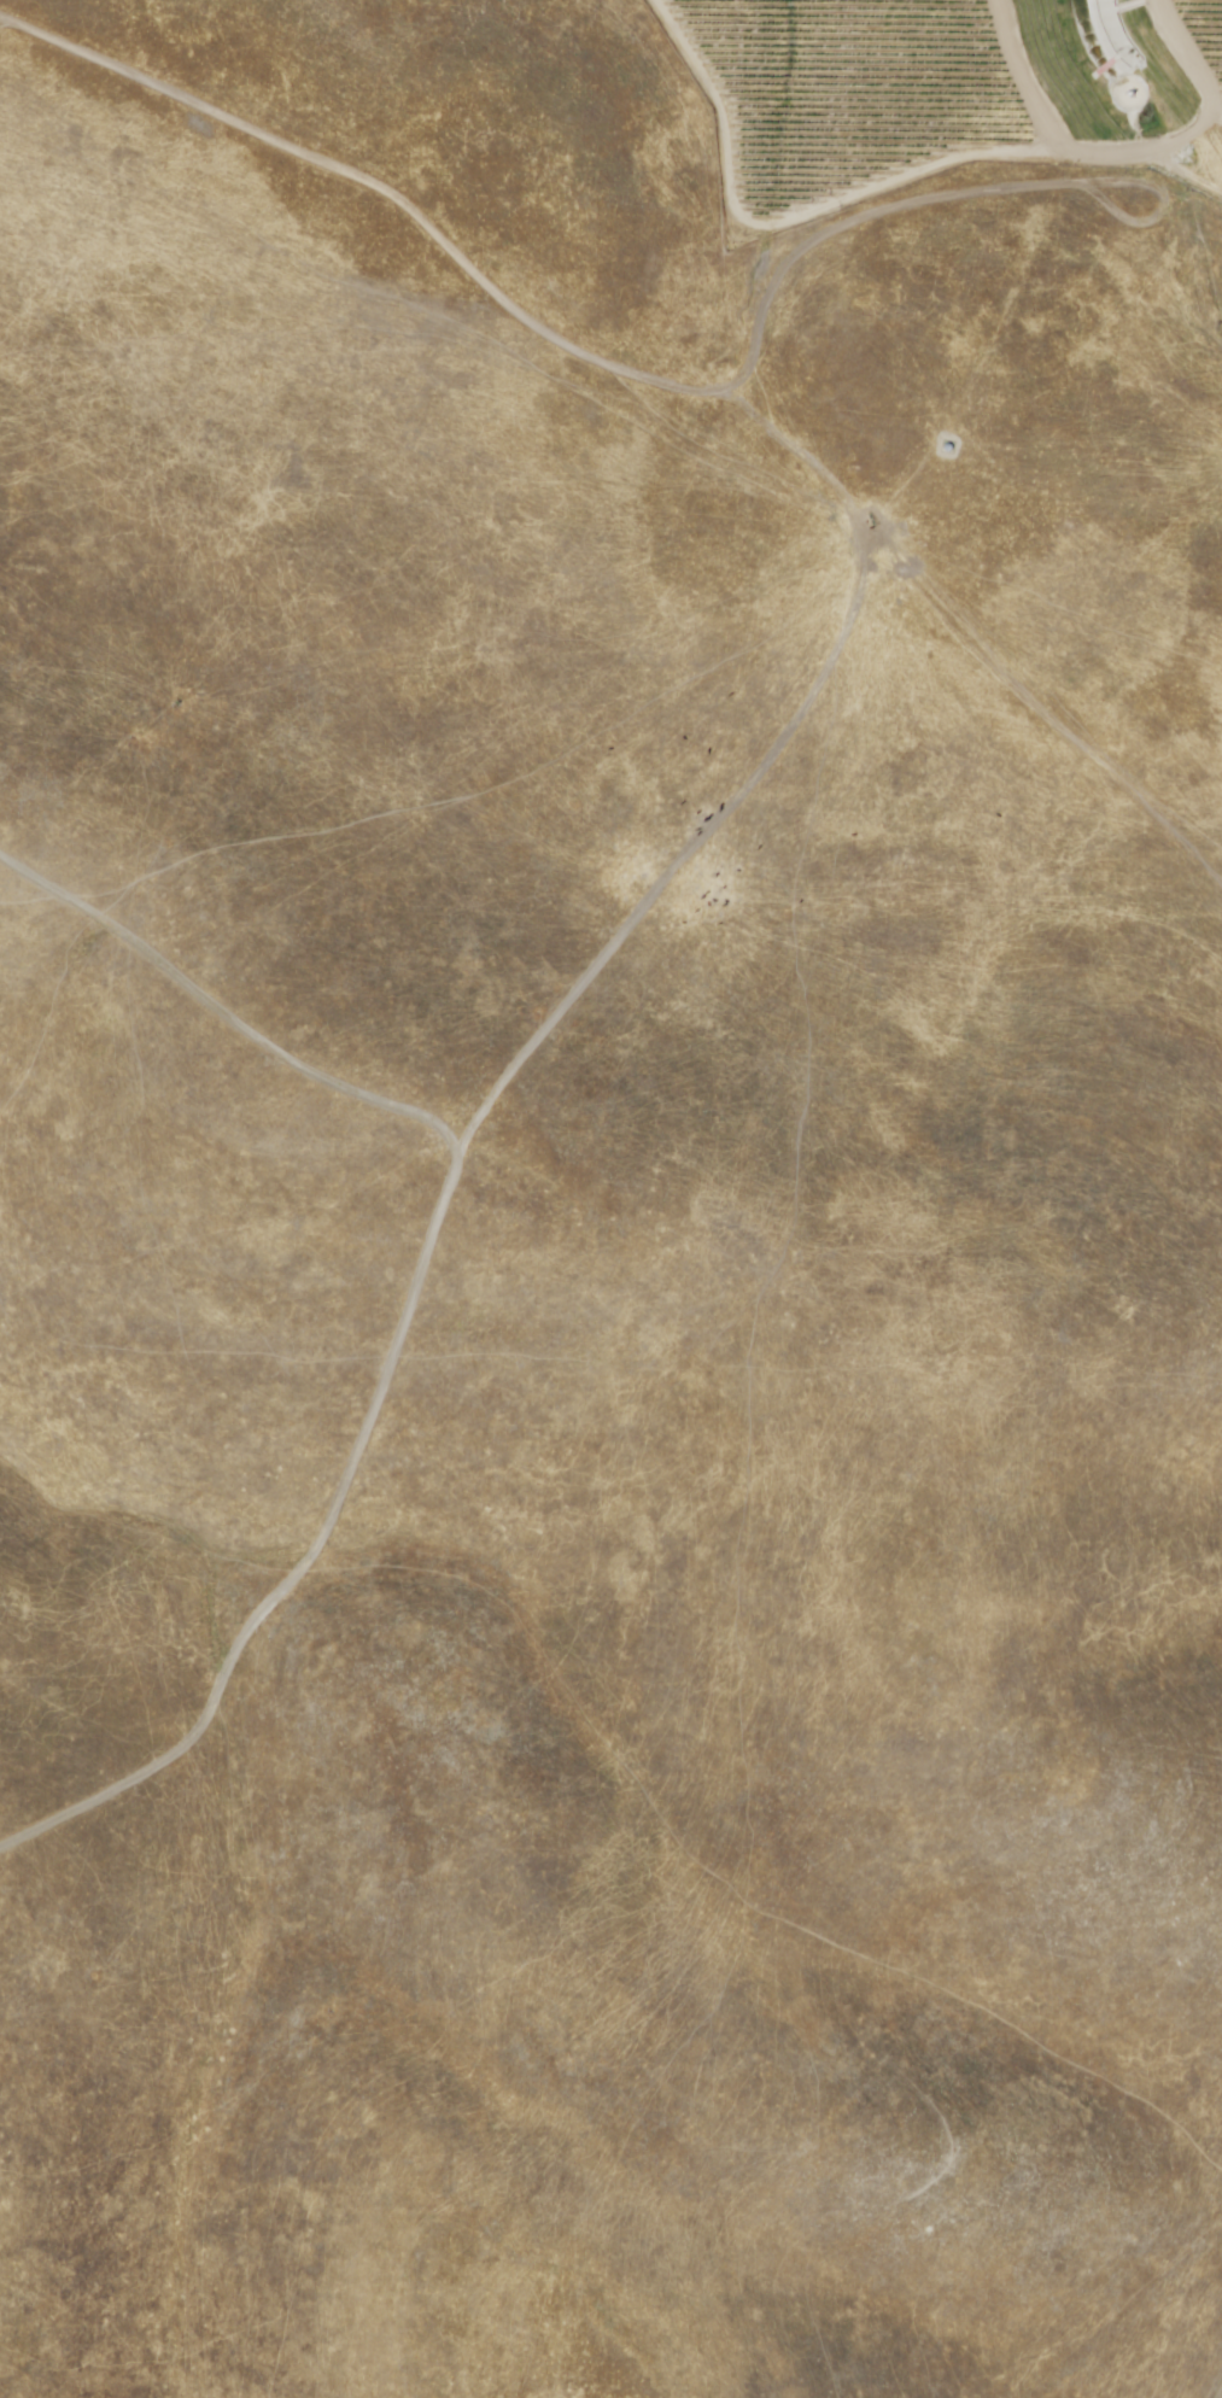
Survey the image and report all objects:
road: (1188, 57)
road: (1023, 76)
road: (1183, 140)
road: (858, 197)
road: (615, 365)
road: (411, 1308)

